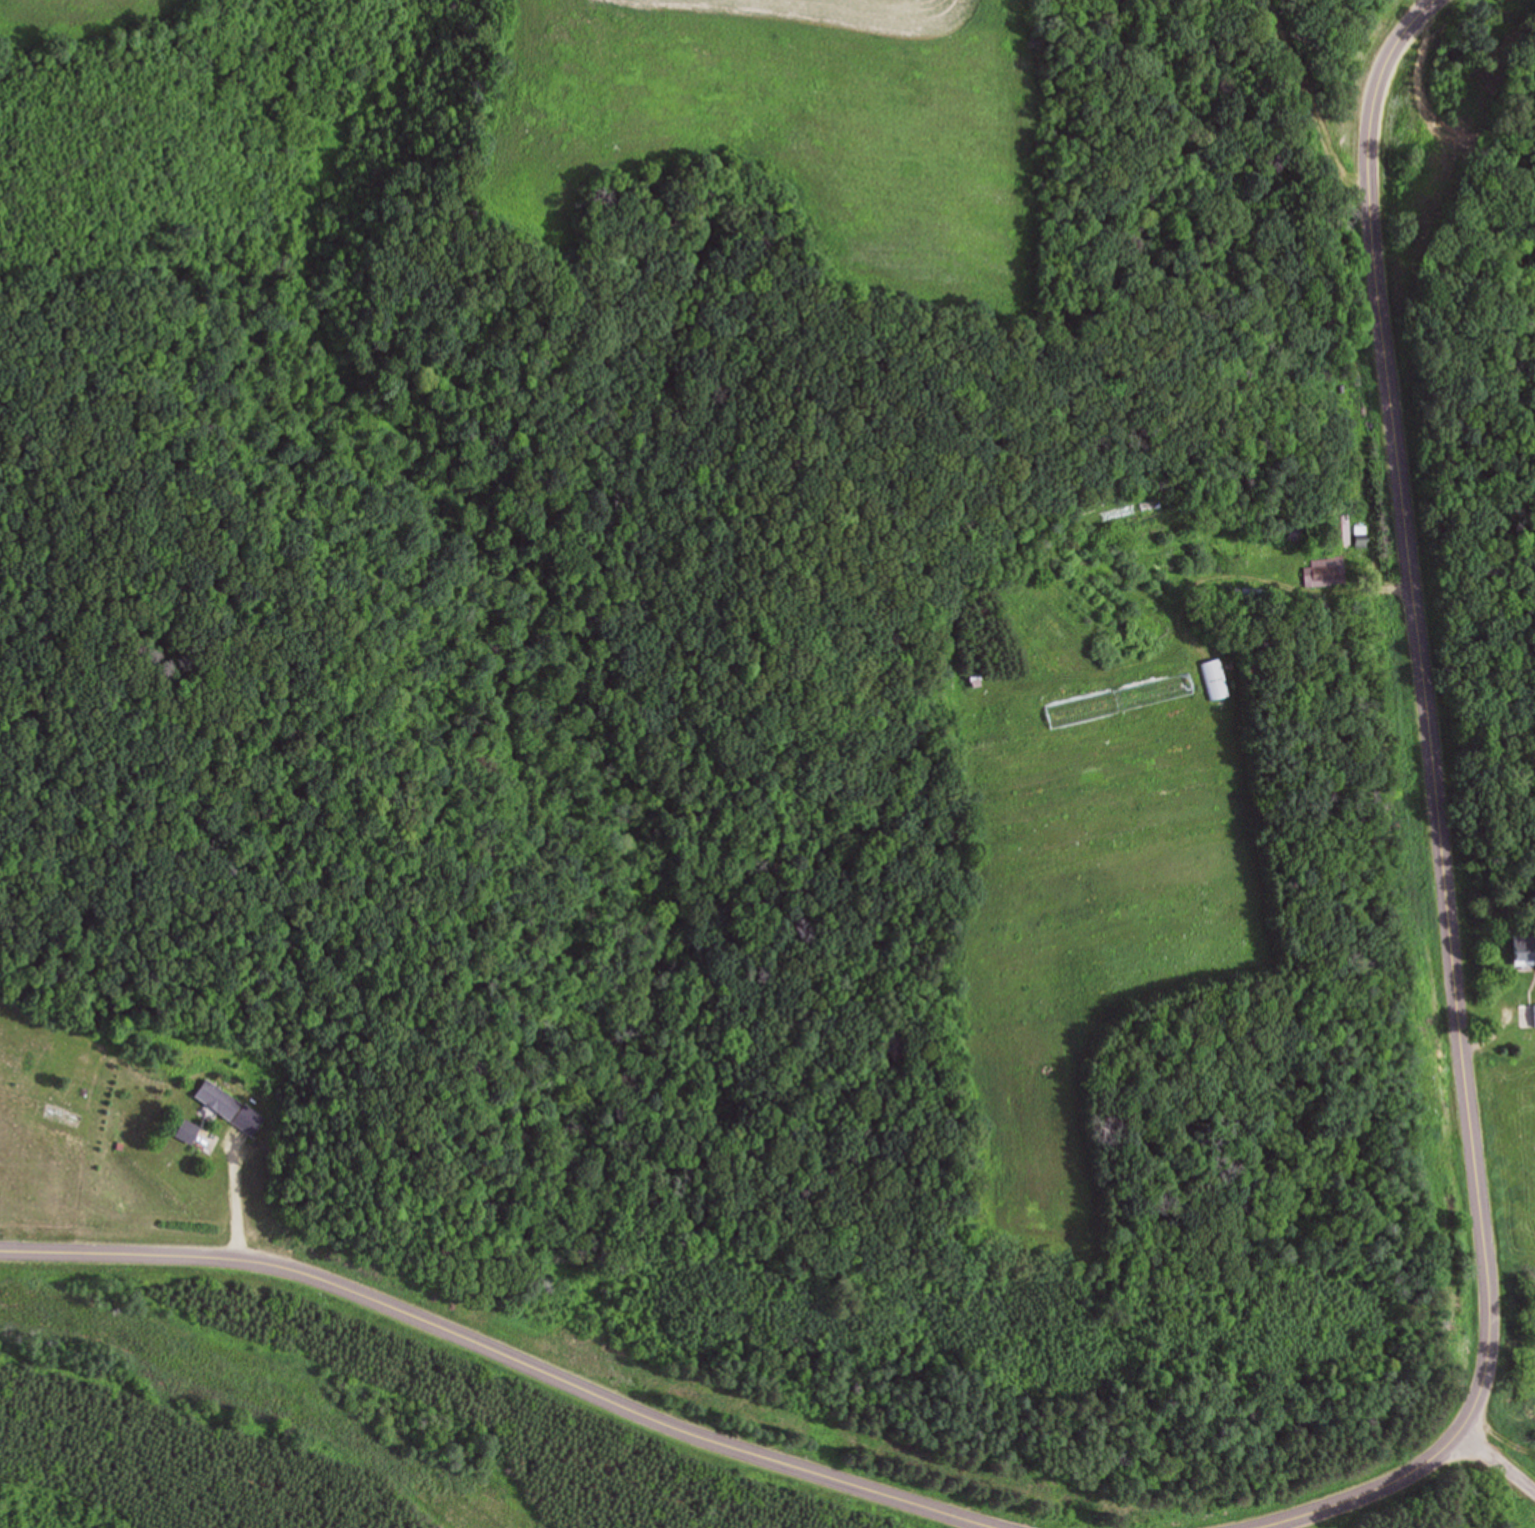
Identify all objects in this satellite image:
crop: (90, 19)
crop: (803, 133)
building: (1215, 681)
building: (1120, 700)
road: (1445, 823)
building: (1524, 949)
building: (1534, 1015)
road: (237, 1199)
crop: (1506, 1246)
road: (505, 1355)
road: (1496, 1462)

